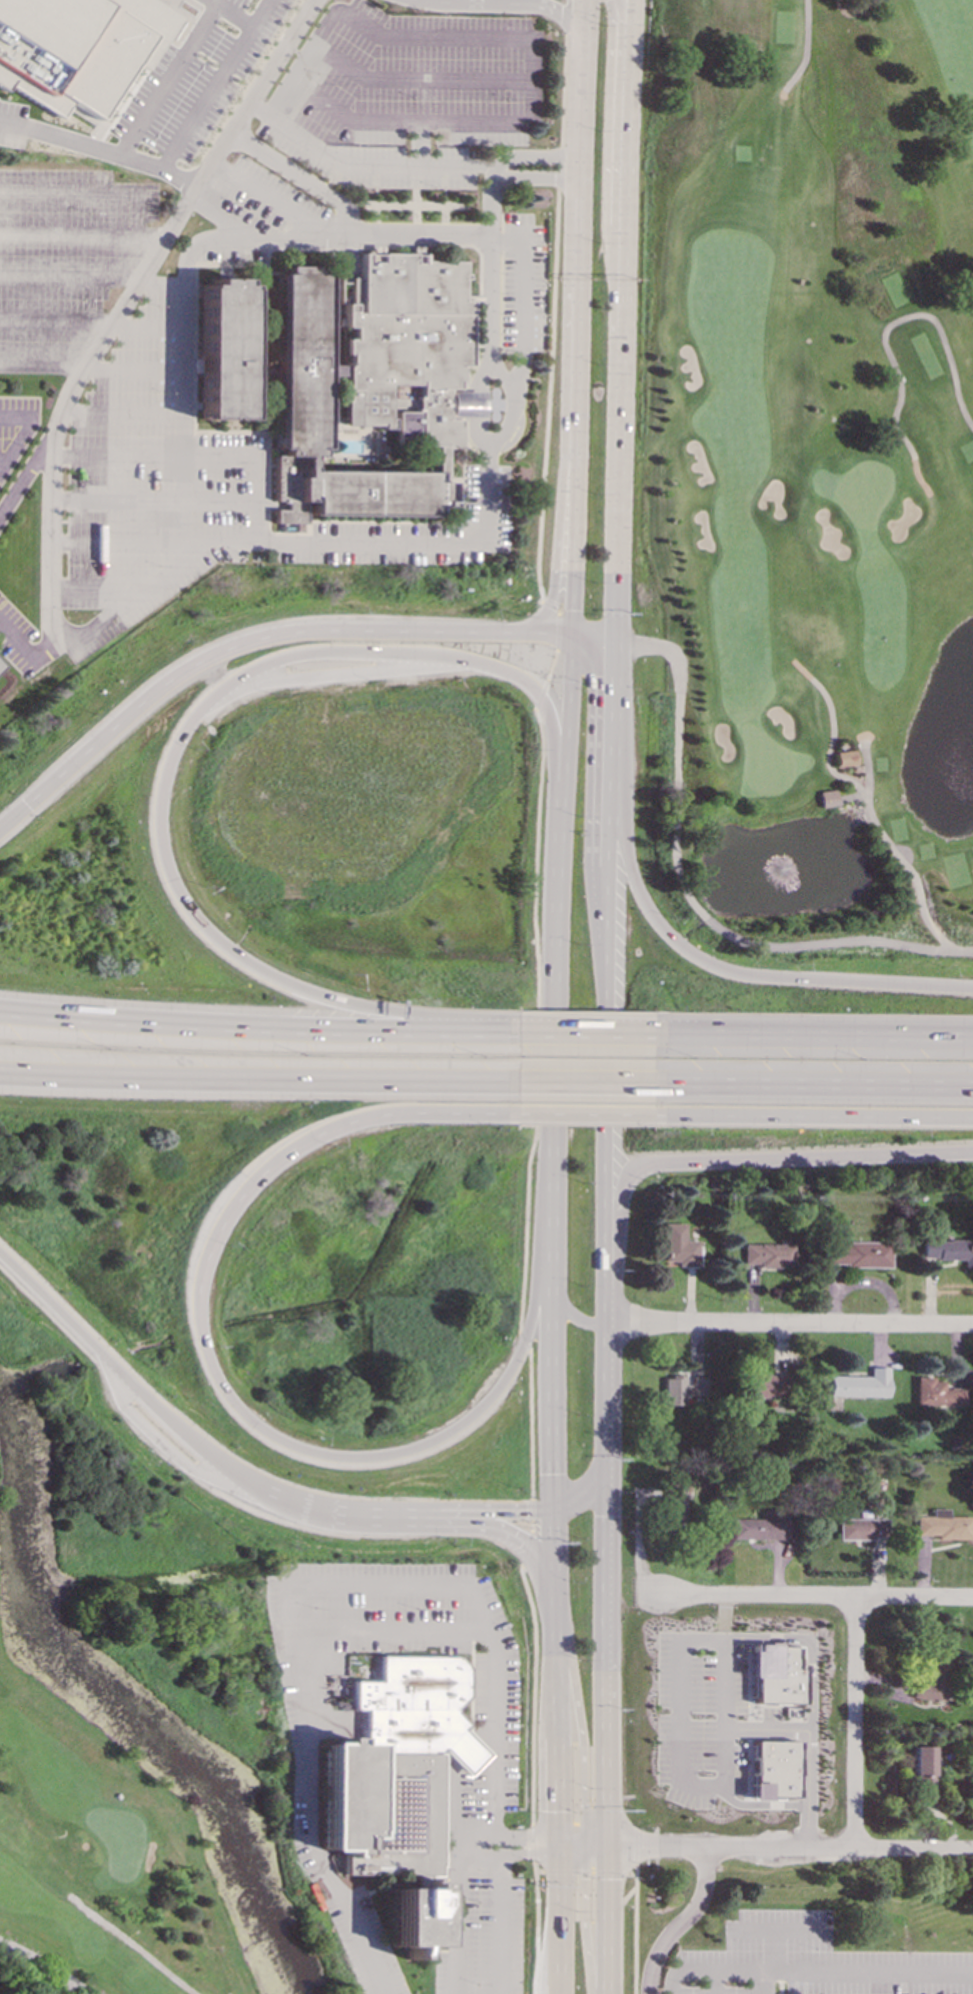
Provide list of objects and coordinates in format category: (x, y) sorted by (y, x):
road: (512, 4)
traffic signals: (562, 13)
road: (232, 14)
road: (584, 17)
road: (567, 18)
road: (488, 38)
road: (807, 46)
building: (76, 48)
road: (170, 81)
road: (418, 81)
parking lot: (189, 87)
road: (217, 87)
road: (564, 92)
road: (253, 96)
road: (348, 119)
parking lot: (12, 124)
road: (579, 144)
road: (611, 149)
road: (629, 149)
road: (99, 153)
road: (360, 163)
road: (559, 167)
road: (349, 221)
road: (295, 232)
road: (499, 237)
road: (81, 238)
parking lot: (62, 258)
building: (346, 271)
road: (490, 302)
road: (573, 326)
building: (405, 346)
road: (885, 347)
building: (221, 349)
building: (298, 362)
building: (333, 371)
road: (472, 394)
road: (547, 394)
road: (183, 407)
road: (507, 417)
road: (617, 469)
park: (811, 469)
road: (27, 472)
road: (184, 512)
road: (575, 516)
road: (559, 522)
road: (551, 605)
road: (558, 629)
road: (79, 633)
road: (546, 634)
traffic signals: (572, 635)
road: (593, 637)
traffic signals: (615, 640)
road: (247, 645)
road: (23, 650)
road: (551, 663)
road: (210, 677)
road: (539, 693)
road: (614, 699)
road: (568, 708)
building: (843, 758)
road: (169, 760)
road: (867, 783)
road: (863, 795)
building: (825, 798)
traffic signals: (27, 805)
road: (612, 812)
road: (13, 817)
road: (688, 896)
road: (610, 900)
road: (721, 970)
road: (555, 974)
road: (537, 1020)
road: (91, 1022)
road: (347, 1031)
road: (581, 1035)
road: (812, 1037)
road: (605, 1079)
road: (254, 1081)
road: (581, 1083)
road: (812, 1085)
road: (582, 1112)
road: (813, 1114)
road: (341, 1121)
road: (804, 1156)
road: (620, 1193)
building: (679, 1246)
building: (948, 1250)
building: (769, 1254)
building: (858, 1254)
road: (574, 1318)
road: (789, 1323)
road: (552, 1337)
road: (524, 1341)
road: (607, 1347)
building: (860, 1384)
building: (768, 1386)
building: (674, 1391)
road: (138, 1393)
building: (936, 1393)
road: (530, 1425)
road: (387, 1460)
traffic signals: (608, 1472)
road: (582, 1495)
building: (673, 1503)
traffic signals: (552, 1510)
road: (513, 1513)
road: (385, 1514)
building: (943, 1525)
building: (759, 1528)
building: (863, 1528)
road: (531, 1532)
road: (530, 1545)
road: (816, 1597)
road: (293, 1627)
road: (703, 1640)
road: (811, 1644)
road: (606, 1662)
building: (775, 1674)
building: (929, 1678)
road: (552, 1679)
road: (726, 1685)
road: (533, 1693)
road: (854, 1724)
park: (129, 1728)
road: (581, 1731)
road: (726, 1748)
building: (464, 1753)
road: (496, 1759)
building: (920, 1768)
building: (772, 1769)
building: (396, 1778)
road: (453, 1809)
road: (505, 1835)
road: (532, 1843)
road: (635, 1845)
traffic signals: (553, 1849)
road: (789, 1850)
road: (579, 1851)
road: (504, 1852)
traffic signals: (605, 1853)
road: (584, 1872)
road: (619, 1903)
road: (582, 1913)
road: (455, 1914)
road: (553, 1917)
road: (603, 1923)
road: (681, 1924)
road: (536, 1927)
road: (634, 1929)
road: (134, 1945)
road: (43, 1968)
road: (813, 1970)
road: (760, 1981)
road: (553, 1989)

